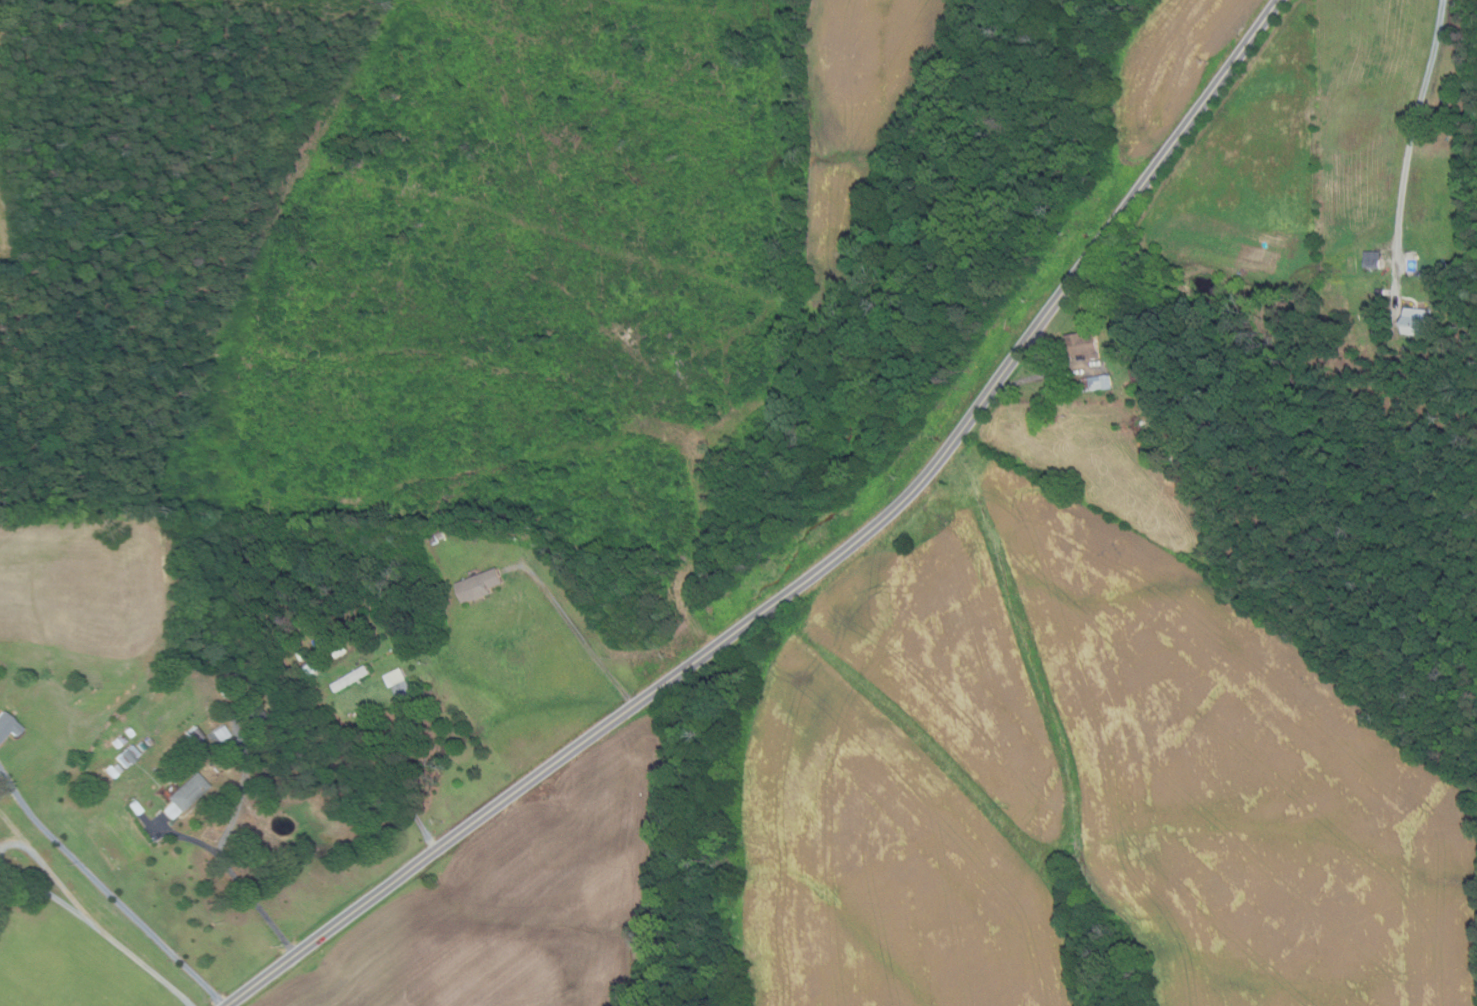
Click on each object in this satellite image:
road: (1417, 144)
crop: (3, 233)
building: (1374, 259)
building: (1447, 266)
building: (1382, 292)
building: (1305, 306)
building: (1418, 321)
building: (1082, 345)
road: (1047, 375)
building: (1139, 375)
building: (1098, 383)
building: (442, 535)
building: (434, 539)
road: (819, 571)
crop: (80, 583)
building: (481, 585)
road: (575, 629)
building: (332, 641)
building: (317, 642)
building: (340, 652)
building: (302, 655)
building: (312, 663)
building: (396, 677)
building: (352, 678)
building: (233, 689)
building: (225, 693)
building: (254, 711)
building: (8, 725)
building: (130, 732)
building: (220, 733)
building: (194, 734)
building: (119, 741)
building: (149, 742)
building: (141, 745)
building: (128, 756)
building: (117, 768)
road: (398, 778)
crop: (1081, 783)
crop: (1081, 788)
building: (184, 795)
building: (135, 807)
road: (235, 876)
road: (110, 890)
crop: (522, 901)
road: (102, 929)

